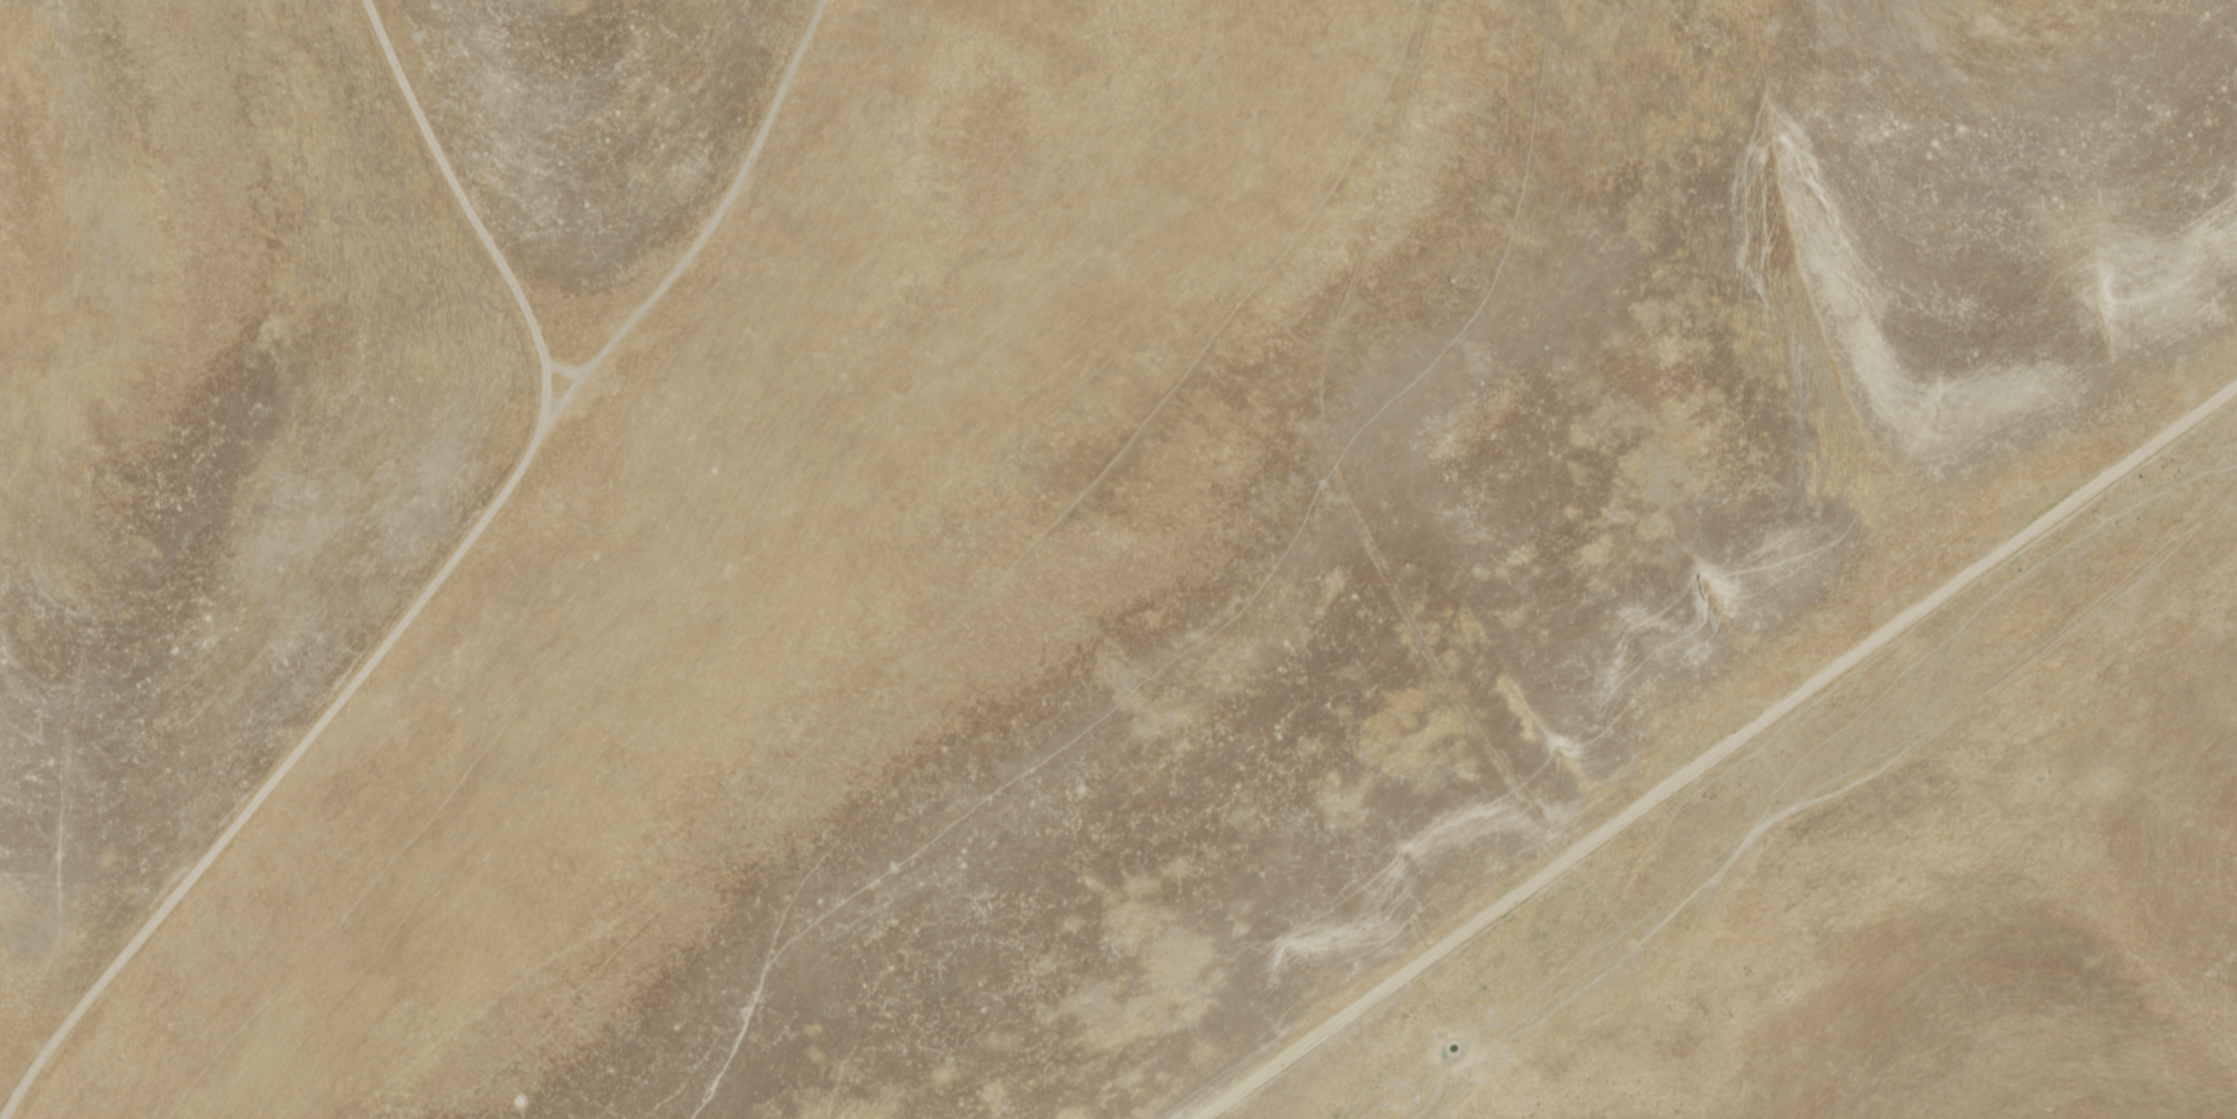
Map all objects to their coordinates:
road: (496, 600)
road: (1715, 750)
road: (1379, 1109)

